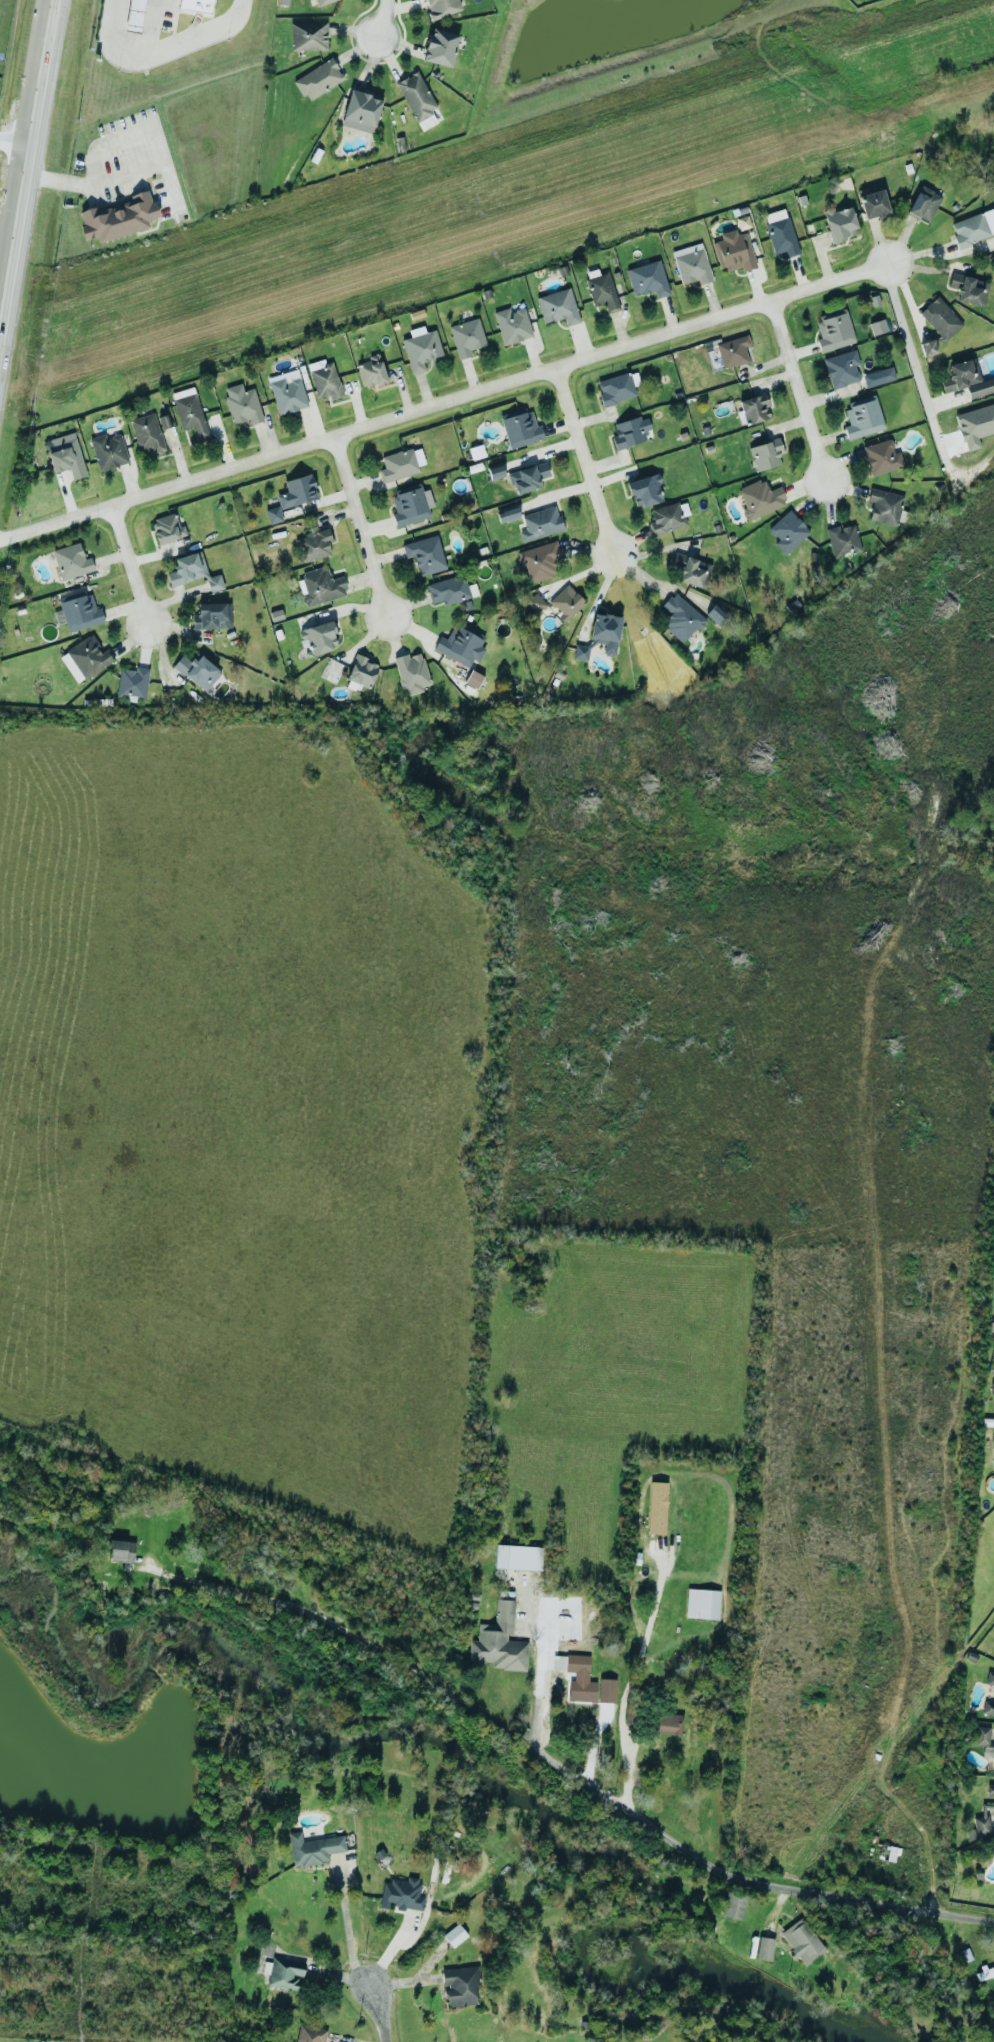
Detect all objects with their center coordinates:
building: (283, 2)
building: (321, 2)
building: (440, 7)
building: (197, 9)
building: (135, 18)
road: (378, 19)
road: (199, 34)
building: (308, 36)
building: (440, 47)
road: (129, 60)
building: (318, 79)
building: (416, 96)
building: (360, 111)
road: (17, 142)
road: (28, 178)
road: (71, 186)
building: (873, 204)
building: (923, 204)
building: (116, 219)
building: (742, 223)
building: (839, 224)
building: (973, 228)
building: (780, 232)
building: (733, 251)
building: (691, 264)
building: (647, 279)
building: (969, 289)
building: (602, 291)
building: (557, 307)
building: (939, 317)
building: (512, 325)
building: (877, 327)
building: (834, 330)
building: (466, 337)
building: (927, 348)
building: (421, 350)
building: (732, 351)
road: (919, 365)
building: (841, 368)
building: (371, 371)
building: (878, 376)
building: (324, 379)
building: (966, 379)
road: (500, 382)
road: (800, 387)
building: (615, 389)
building: (287, 392)
building: (242, 404)
building: (754, 408)
building: (190, 416)
building: (862, 417)
building: (520, 429)
building: (630, 432)
building: (147, 434)
building: (108, 451)
building: (765, 454)
building: (65, 455)
building: (881, 457)
road: (588, 460)
building: (400, 464)
building: (527, 477)
building: (644, 490)
building: (297, 491)
building: (760, 498)
building: (408, 506)
building: (273, 514)
building: (503, 515)
building: (666, 519)
road: (57, 520)
building: (540, 523)
road: (359, 525)
building: (166, 528)
building: (787, 532)
building: (842, 540)
building: (315, 545)
building: (425, 554)
building: (540, 560)
building: (71, 561)
road: (132, 564)
building: (692, 570)
building: (191, 571)
building: (321, 586)
building: (450, 590)
building: (565, 602)
building: (534, 603)
building: (79, 611)
building: (715, 613)
building: (211, 616)
building: (680, 618)
building: (605, 632)
building: (319, 637)
building: (461, 645)
building: (580, 652)
building: (84, 658)
building: (197, 671)
building: (361, 671)
building: (411, 672)
building: (473, 679)
building: (132, 683)
building: (991, 1388)
building: (992, 1439)
building: (656, 1507)
building: (120, 1551)
building: (517, 1557)
building: (702, 1603)
building: (498, 1642)
road: (629, 1678)
building: (580, 1679)
building: (989, 1679)
building: (606, 1690)
road: (537, 1695)
building: (988, 1707)
building: (628, 1712)
building: (668, 1724)
building: (983, 1738)
road: (562, 1770)
building: (990, 1790)
building: (979, 1828)
building: (313, 1849)
road: (927, 1851)
building: (884, 1852)
building: (401, 1894)
building: (733, 1905)
road: (348, 1930)
building: (454, 1935)
building: (802, 1941)
building: (764, 1948)
building: (984, 1972)
building: (283, 1973)
building: (459, 1985)
road: (378, 2014)
building: (309, 2034)

